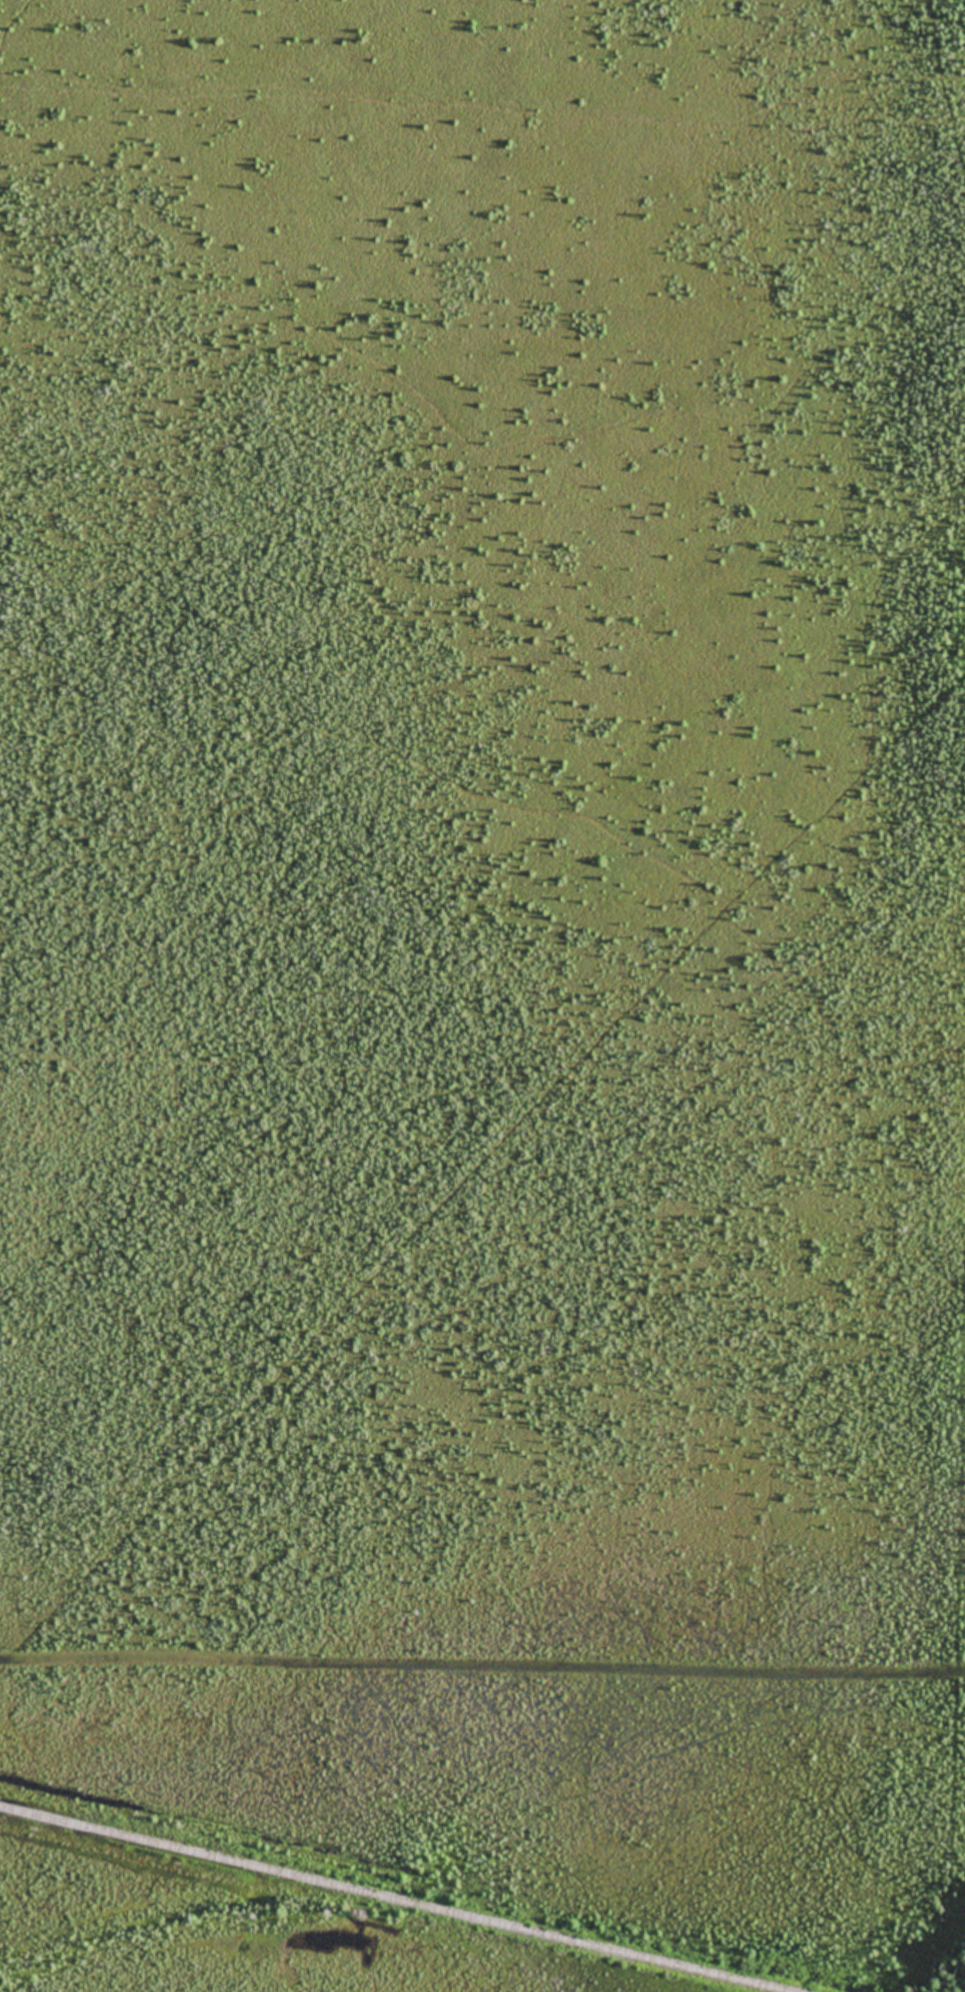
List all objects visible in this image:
railway: (396, 1899)

